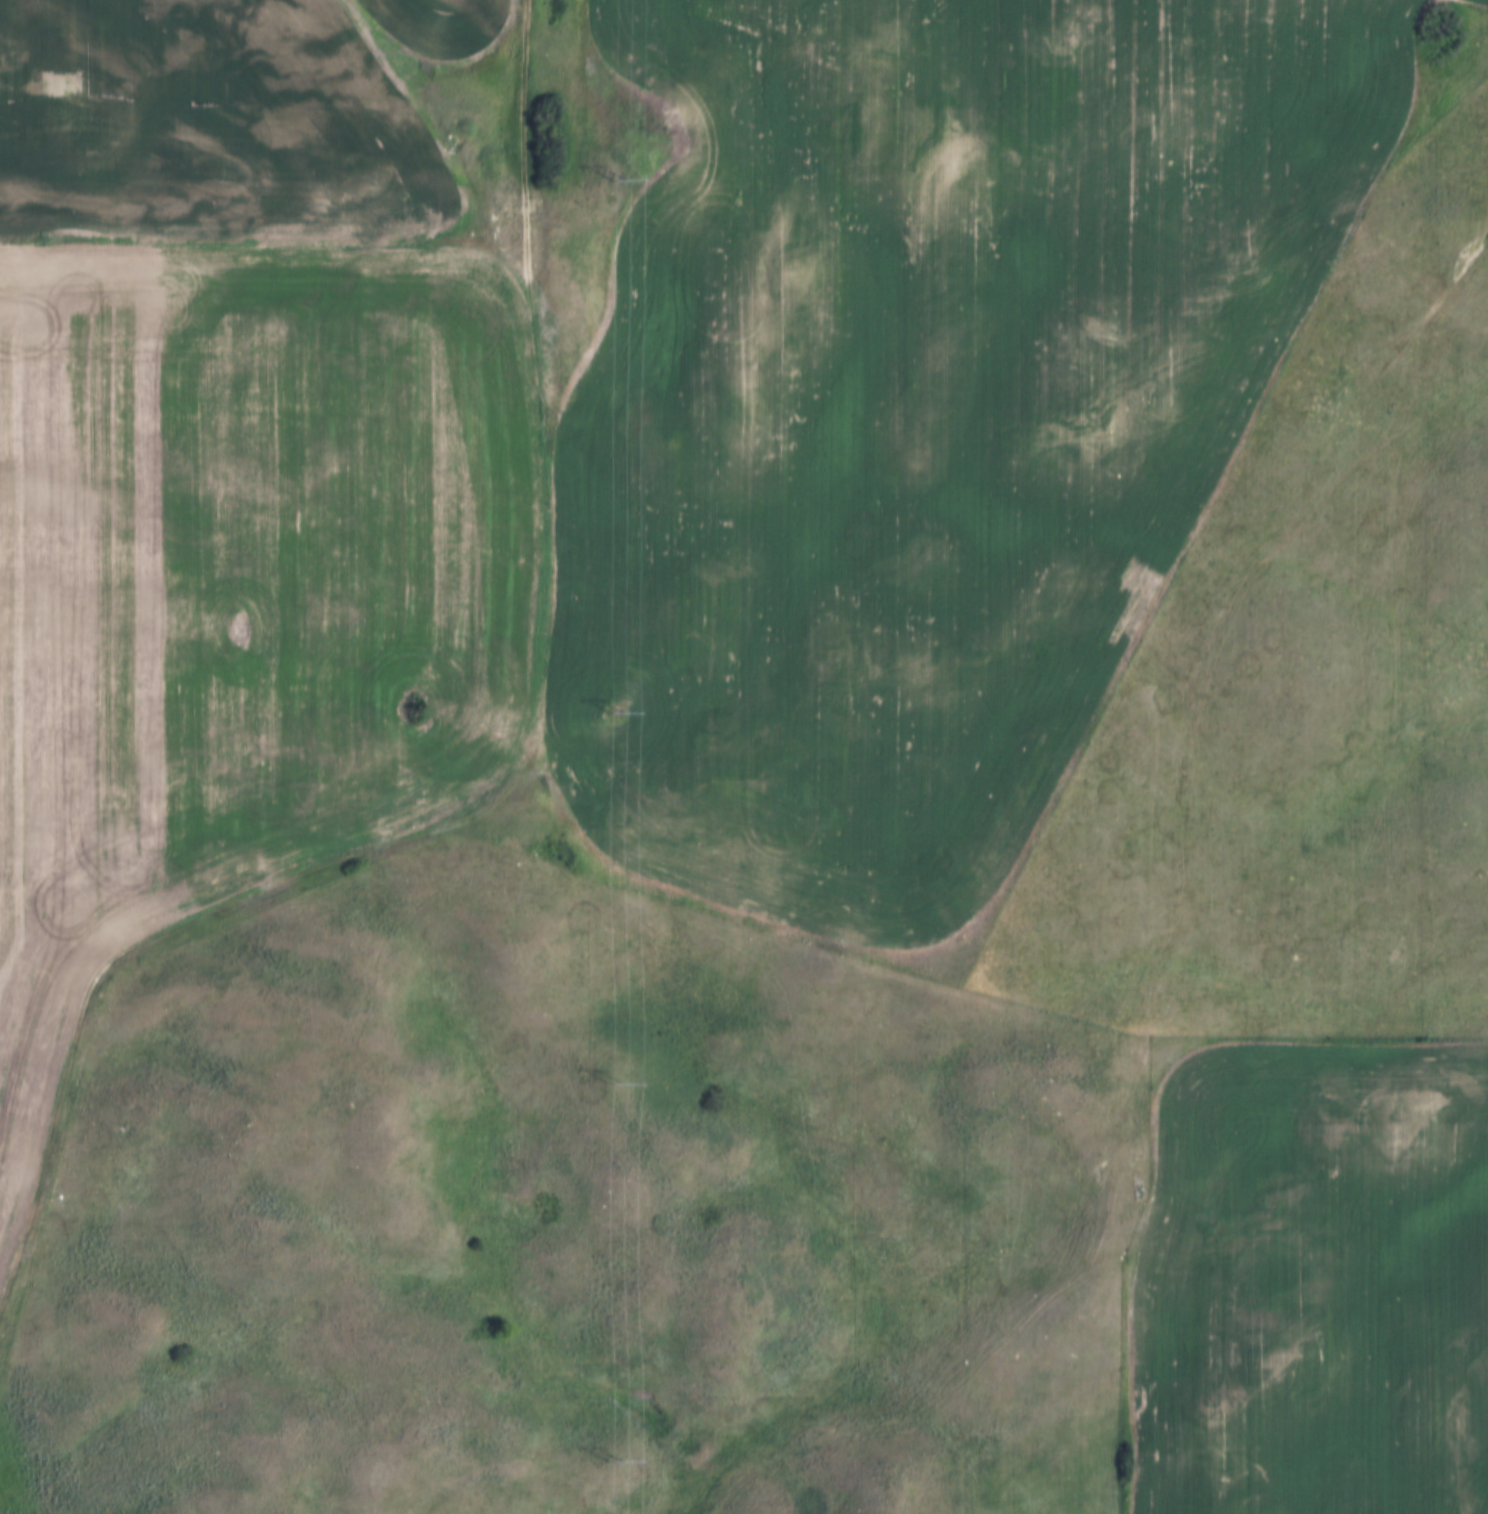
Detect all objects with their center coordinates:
power tower: (617, 180)
power tower: (614, 717)
road: (513, 794)
power tower: (614, 1087)
power tower: (613, 1463)

